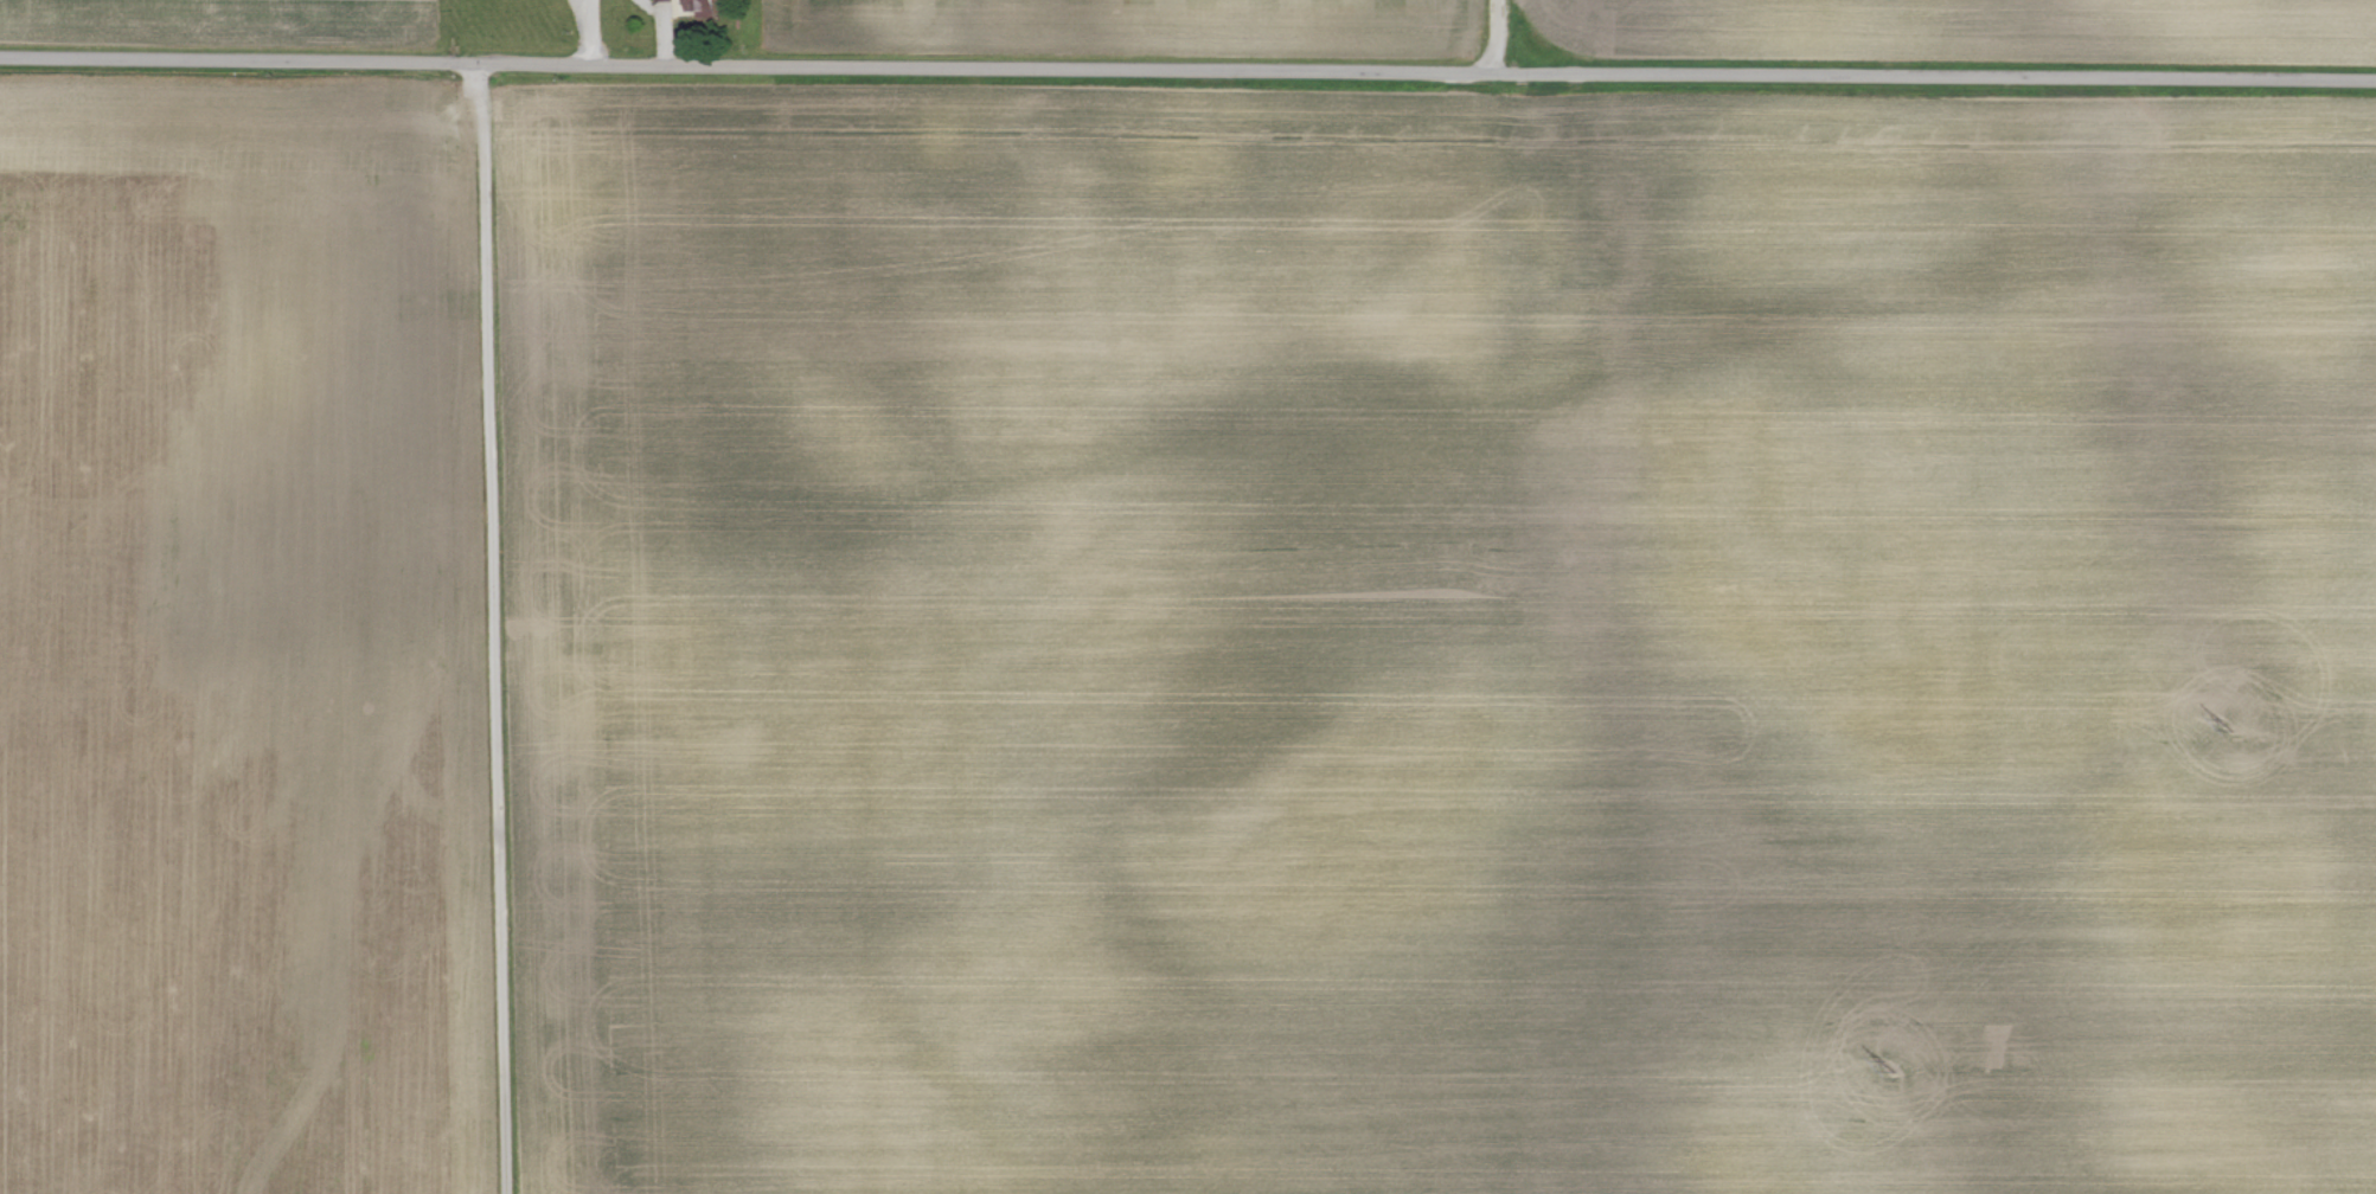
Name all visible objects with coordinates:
road: (661, 28)
road: (584, 32)
road: (1493, 34)
road: (1187, 66)
road: (494, 628)
power tower: (2228, 725)
power tower: (1890, 1065)

